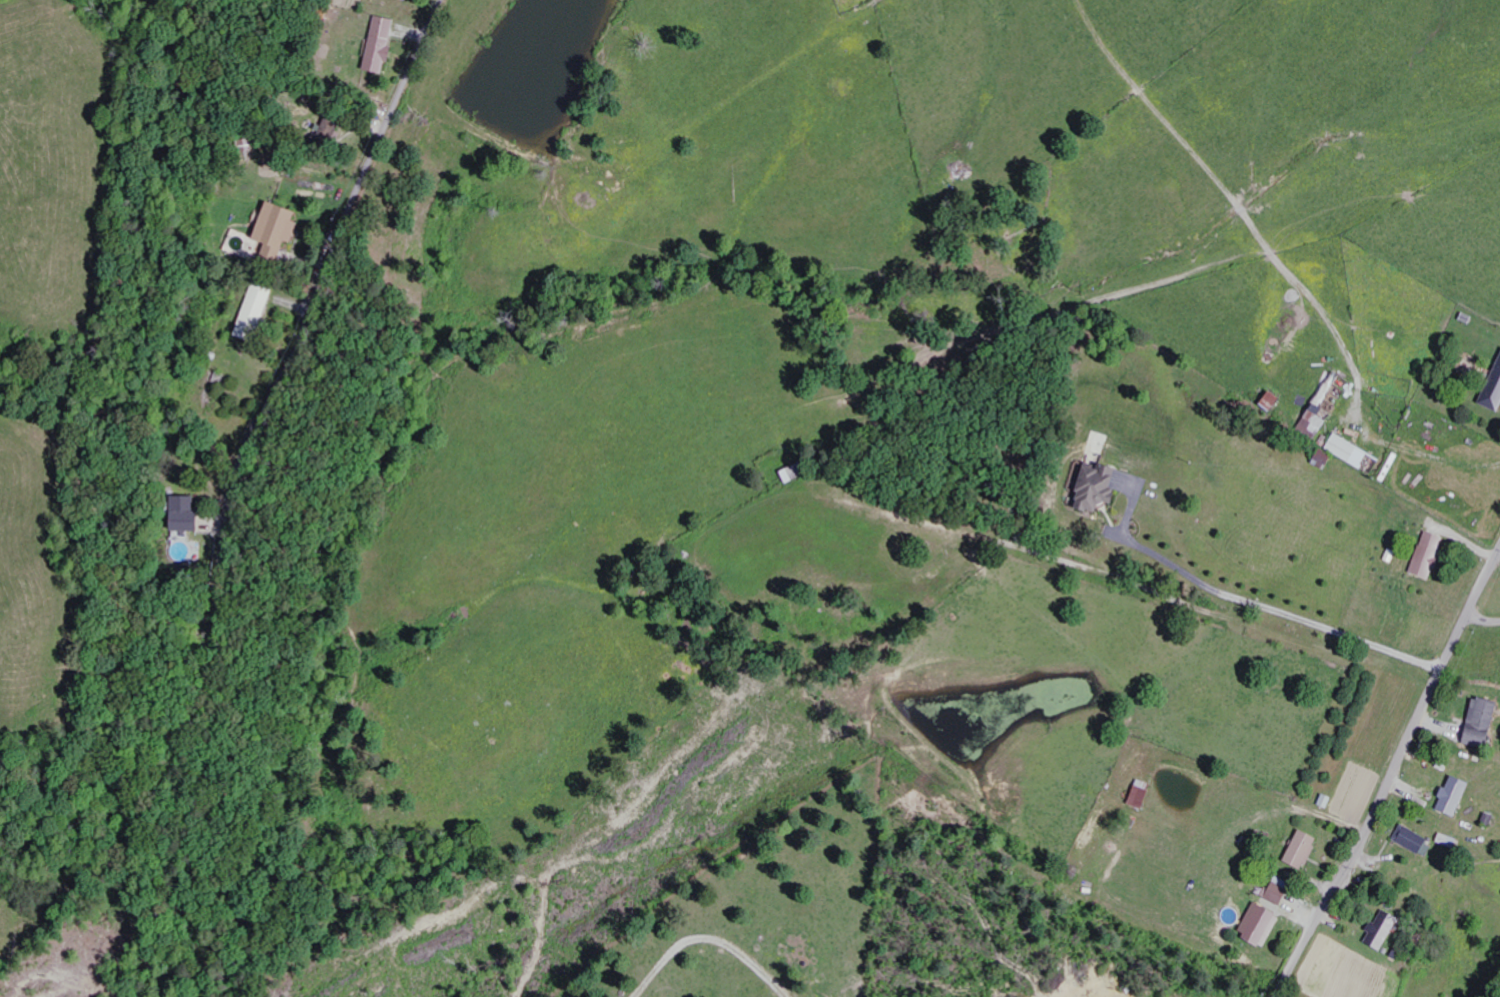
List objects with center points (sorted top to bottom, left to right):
building: (411, 0)
building: (382, 45)
building: (282, 229)
road: (324, 269)
building: (258, 311)
building: (1494, 393)
building: (1275, 400)
building: (1329, 406)
building: (1358, 453)
building: (1326, 460)
building: (799, 472)
building: (1104, 486)
building: (190, 514)
building: (1431, 554)
road: (1483, 618)
building: (1484, 723)
road: (1392, 776)
building: (1144, 794)
building: (1457, 795)
building: (1414, 839)
building: (1305, 849)
building: (1280, 894)
building: (1266, 925)
building: (1384, 929)

